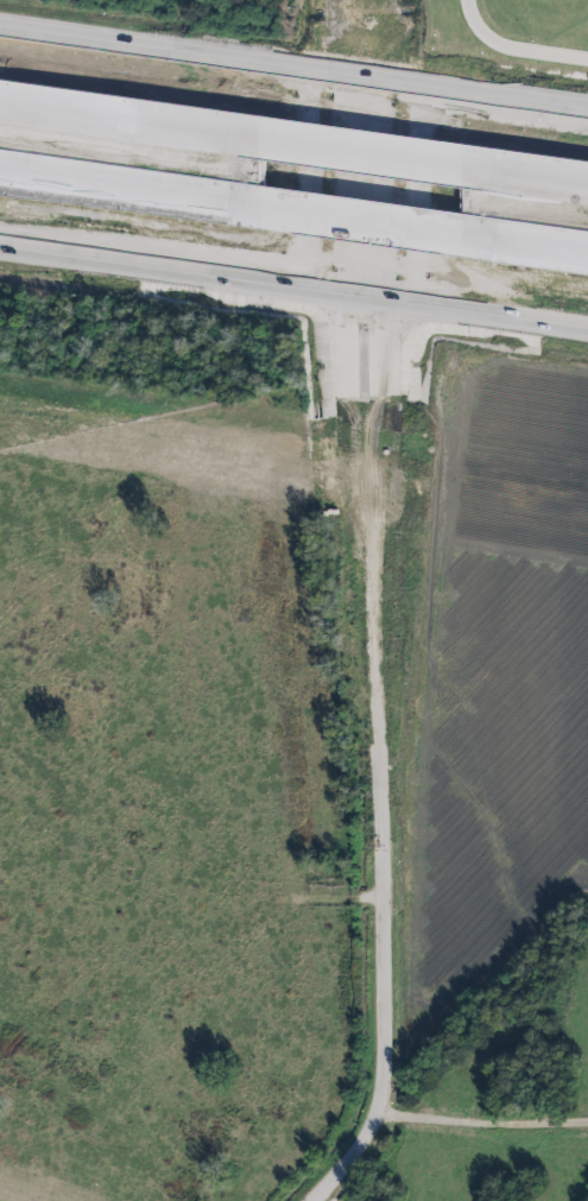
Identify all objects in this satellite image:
road: (511, 48)
road: (293, 64)
road: (131, 126)
road: (362, 159)
road: (419, 163)
road: (336, 181)
road: (525, 182)
road: (380, 187)
road: (131, 195)
road: (305, 201)
building: (365, 221)
road: (363, 228)
road: (526, 252)
road: (293, 285)
road: (375, 1101)
road: (481, 1113)

